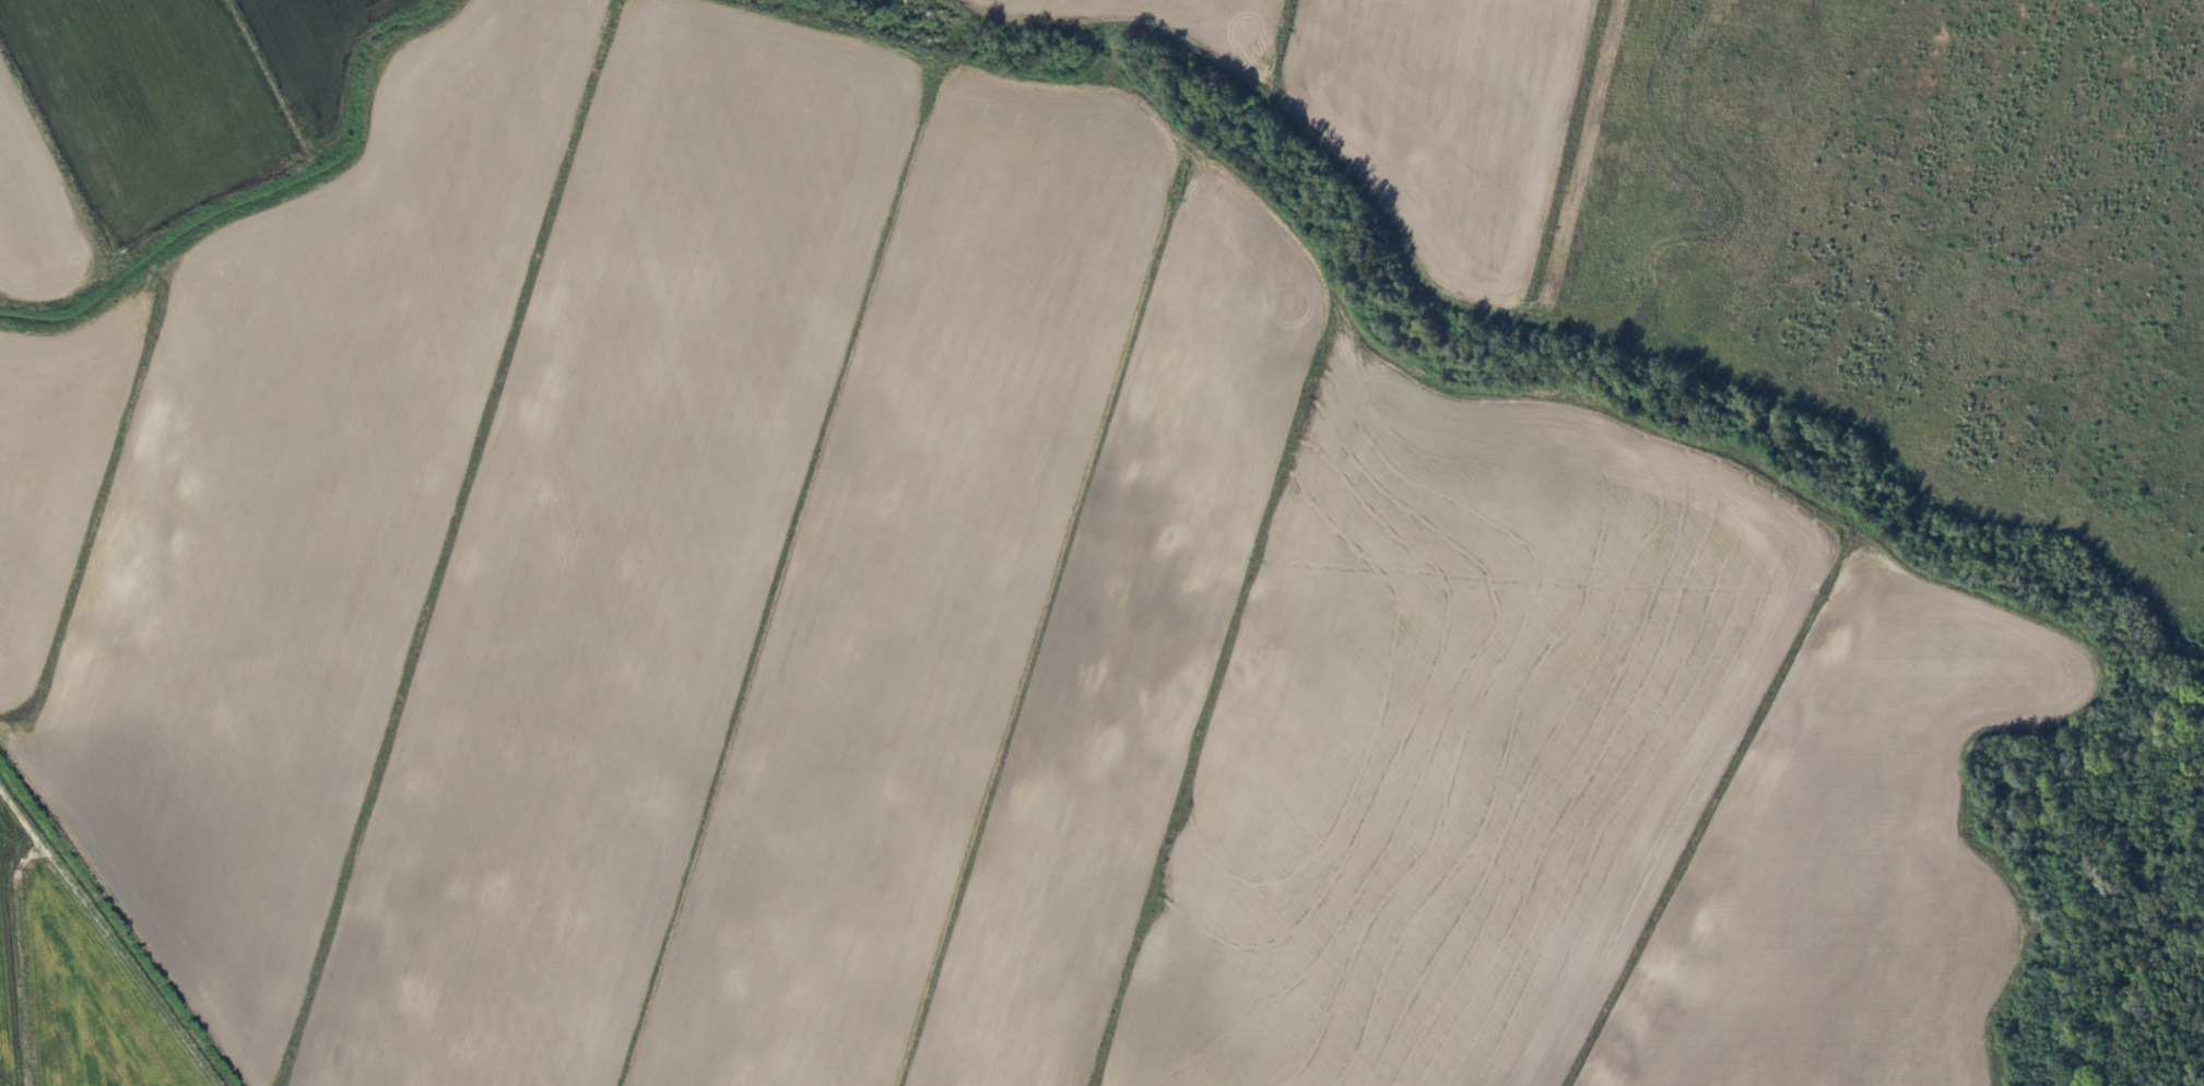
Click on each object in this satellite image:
road: (107, 939)

